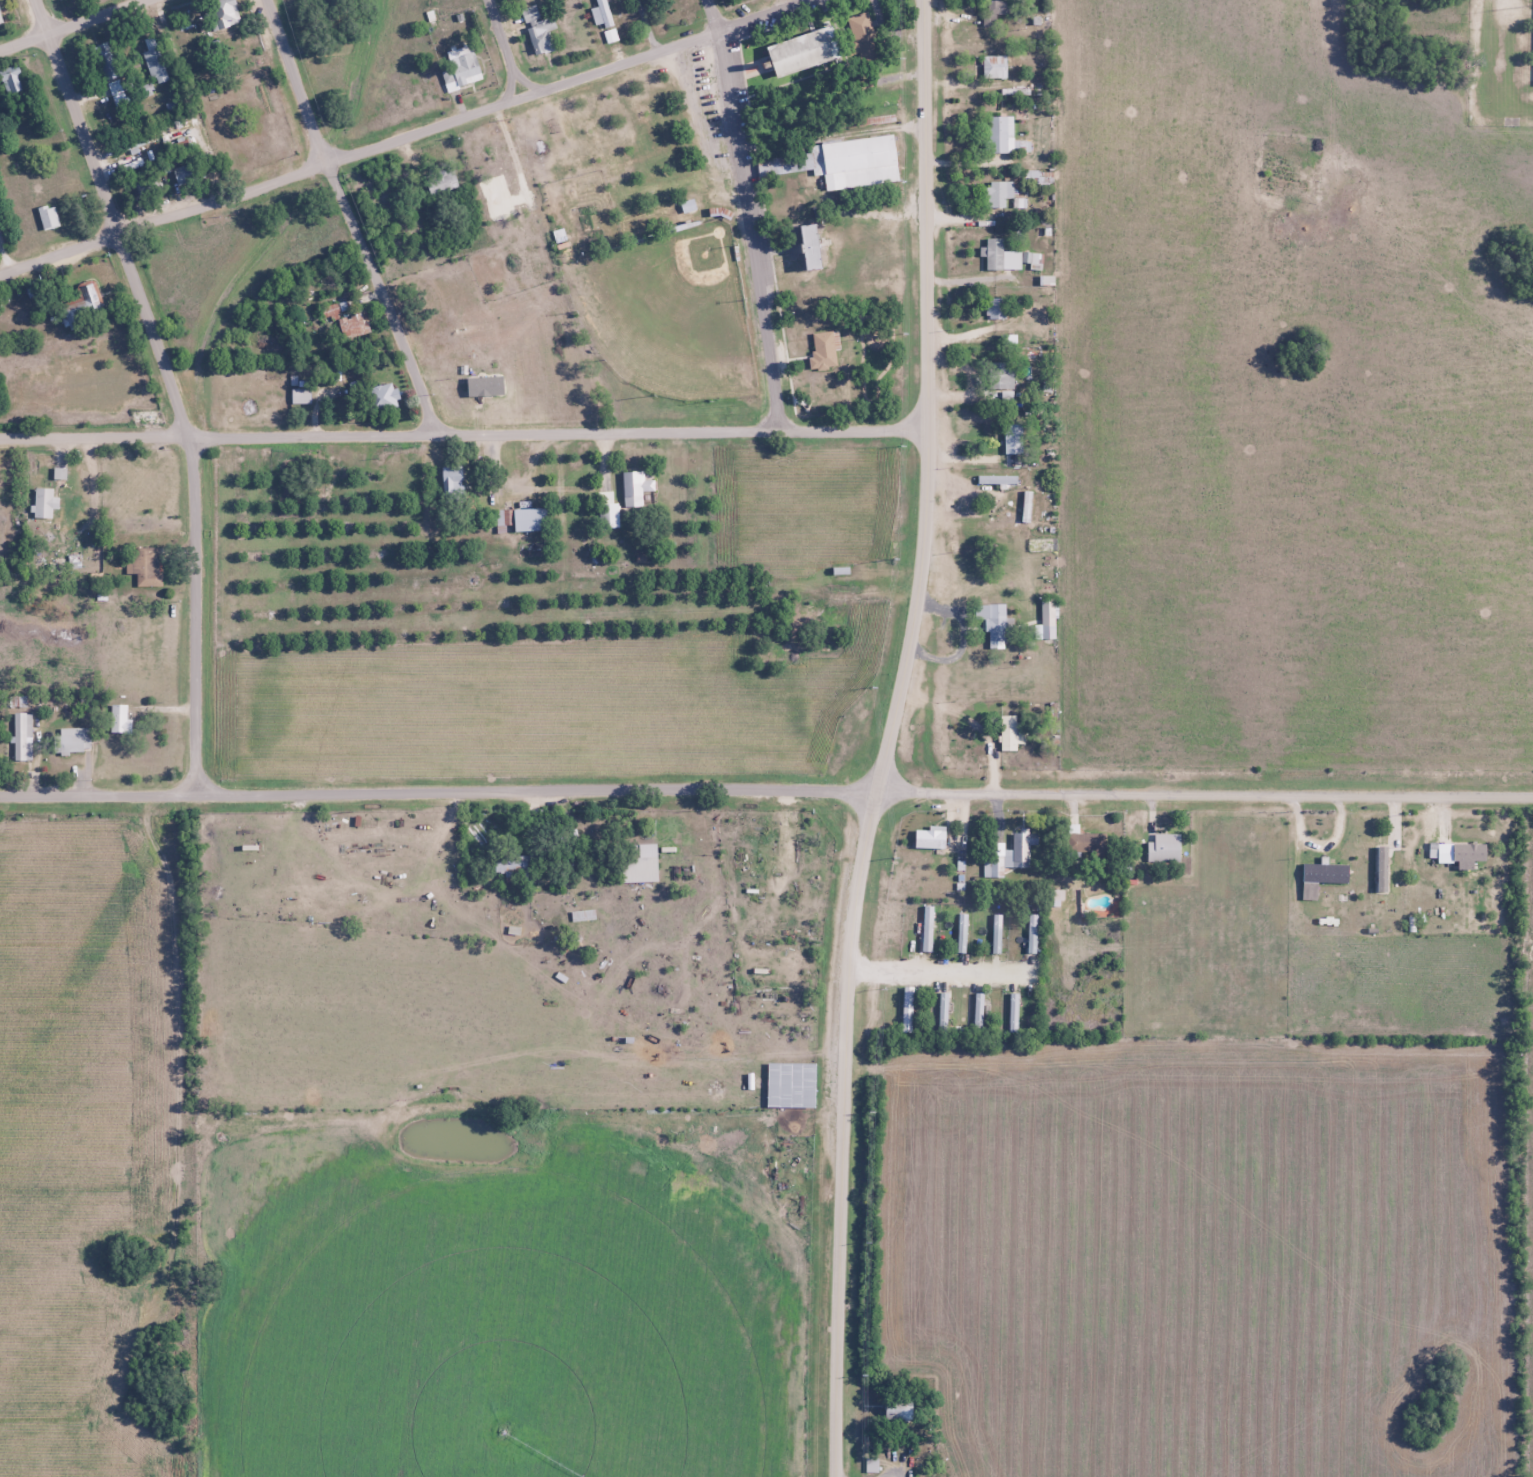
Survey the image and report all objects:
building: (995, 10)
building: (222, 13)
building: (529, 13)
building: (601, 13)
building: (0, 21)
road: (73, 25)
building: (541, 35)
road: (506, 49)
building: (802, 50)
building: (154, 61)
building: (463, 65)
building: (993, 66)
building: (12, 79)
building: (999, 133)
road: (406, 137)
building: (131, 143)
building: (840, 162)
building: (184, 174)
building: (146, 183)
building: (442, 185)
building: (997, 193)
building: (687, 204)
road: (749, 214)
building: (47, 217)
road: (347, 217)
building: (807, 247)
building: (1009, 257)
building: (84, 303)
building: (995, 307)
park: (670, 313)
building: (352, 325)
building: (826, 343)
building: (1001, 376)
road: (174, 387)
building: (300, 395)
building: (383, 397)
road: (463, 433)
building: (1011, 438)
building: (997, 478)
building: (452, 479)
road: (925, 486)
building: (634, 487)
building: (43, 503)
building: (607, 514)
building: (528, 519)
building: (502, 521)
building: (998, 525)
building: (1044, 545)
building: (145, 566)
building: (1048, 618)
building: (996, 622)
building: (119, 719)
building: (1010, 732)
building: (22, 736)
building: (73, 740)
road: (678, 790)
road: (1445, 797)
building: (928, 838)
building: (1084, 842)
building: (1163, 847)
building: (1010, 853)
building: (515, 861)
building: (639, 868)
building: (1321, 876)
building: (1055, 897)
building: (927, 927)
building: (961, 932)
building: (1032, 932)
building: (997, 933)
building: (907, 1009)
building: (979, 1009)
building: (944, 1010)
building: (1013, 1013)
building: (618, 1025)
road: (840, 1221)
building: (871, 1463)

